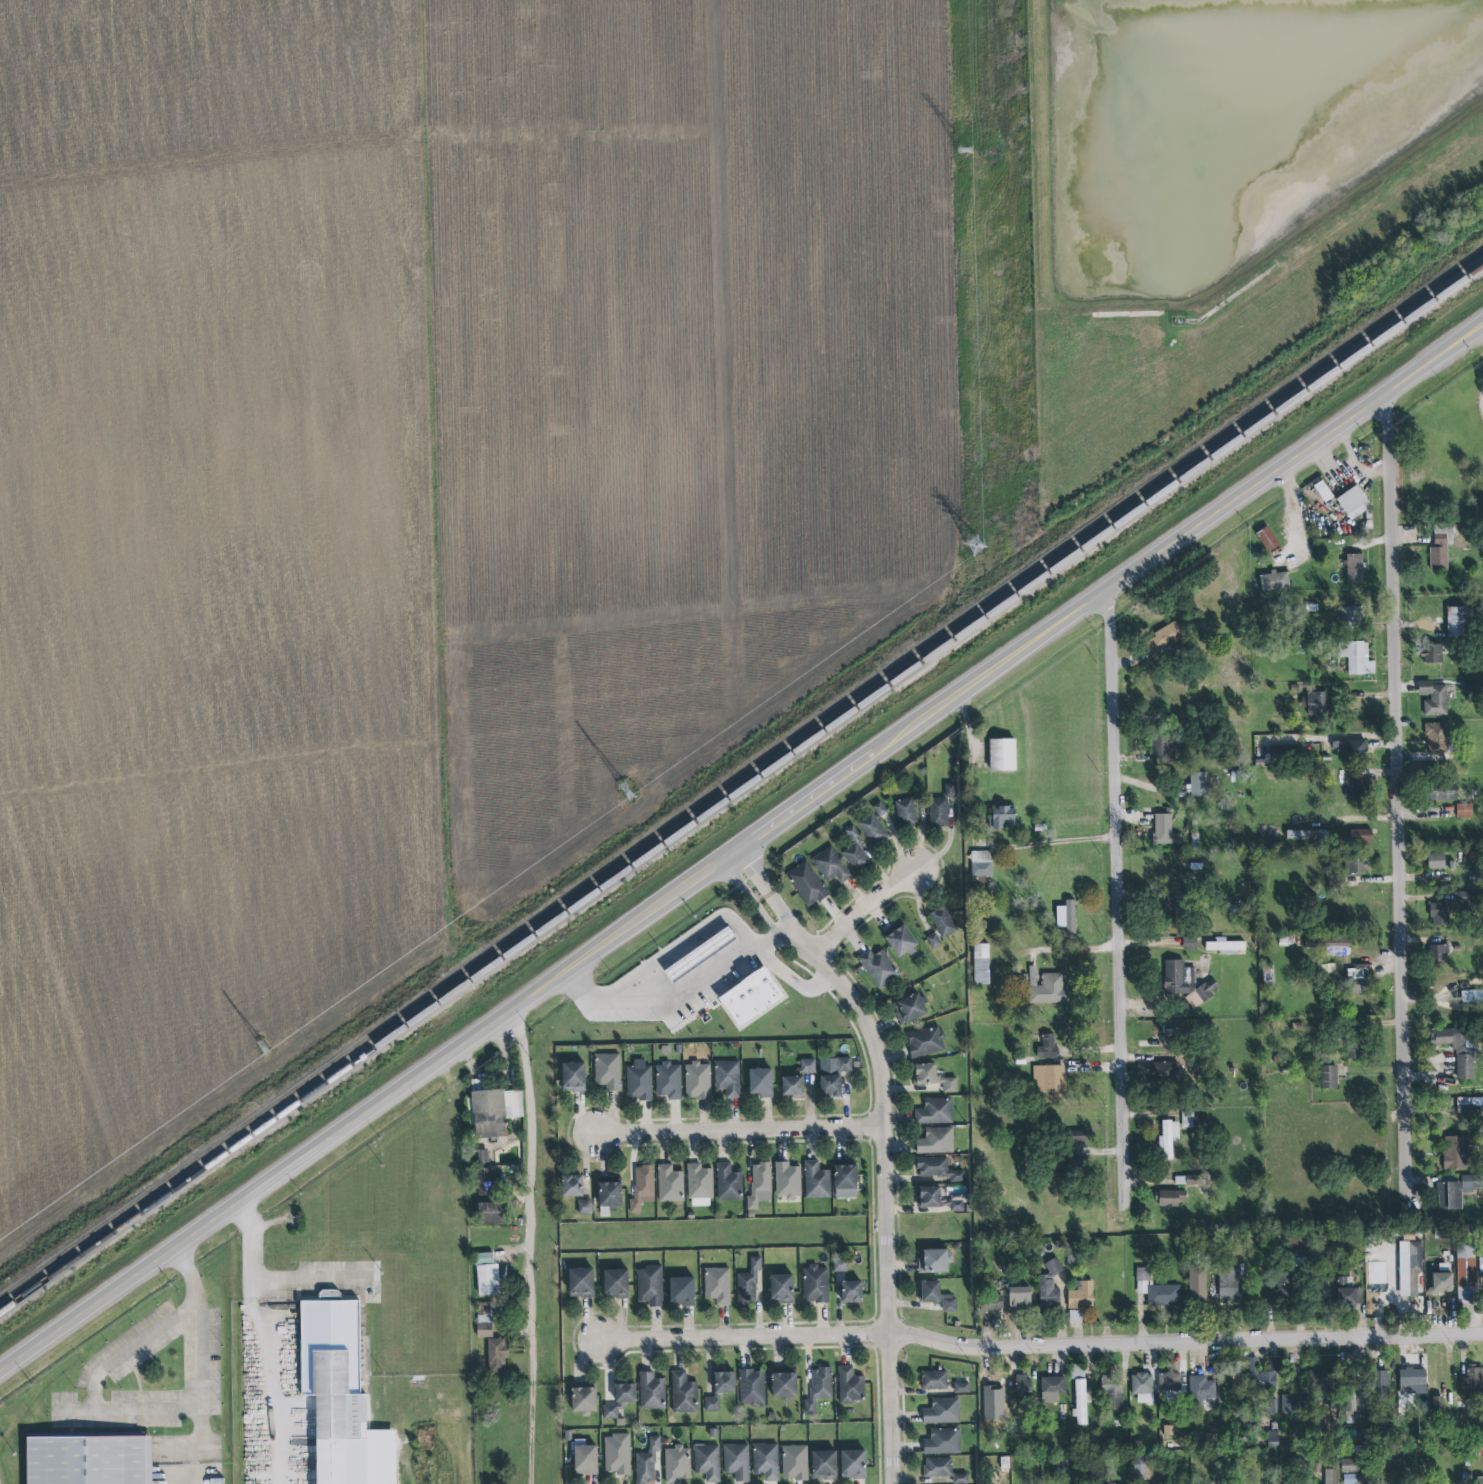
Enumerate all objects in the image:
power tower: (963, 151)
building: (1354, 502)
building: (1267, 539)
power tower: (973, 549)
building: (1439, 549)
building: (1355, 569)
building: (1274, 581)
building: (1351, 616)
building: (1456, 621)
building: (1164, 638)
building: (1432, 654)
building: (1357, 658)
building: (1473, 686)
building: (1433, 698)
building: (1316, 703)
building: (1436, 739)
building: (1350, 748)
building: (1161, 751)
building: (1002, 754)
railway: (743, 772)
building: (1198, 785)
building: (1360, 789)
building: (949, 790)
power tower: (626, 792)
building: (1443, 792)
road: (1398, 798)
building: (879, 809)
building: (1464, 811)
building: (905, 812)
building: (938, 812)
building: (1003, 817)
building: (872, 830)
building: (1165, 830)
building: (853, 833)
building: (1307, 835)
building: (1361, 836)
road: (1032, 842)
road: (739, 848)
building: (857, 858)
building: (1436, 861)
building: (981, 863)
building: (830, 865)
building: (1356, 865)
building: (807, 884)
road: (1117, 896)
building: (1173, 907)
building: (1071, 909)
road: (866, 913)
building: (1439, 915)
building: (943, 922)
road: (680, 942)
building: (901, 942)
building: (934, 942)
building: (1338, 942)
building: (1225, 945)
road: (1076, 949)
building: (1438, 952)
building: (676, 964)
building: (981, 964)
building: (878, 968)
building: (1328, 969)
building: (1359, 976)
road: (791, 981)
building: (1186, 983)
building: (1047, 988)
road: (682, 992)
building: (1472, 997)
building: (752, 998)
building: (909, 1009)
building: (925, 1042)
building: (1047, 1047)
building: (1355, 1049)
building: (1456, 1050)
power tower: (262, 1055)
building: (607, 1069)
building: (1164, 1071)
building: (831, 1072)
building: (725, 1076)
building: (796, 1076)
building: (573, 1077)
building: (1328, 1077)
building: (932, 1078)
building: (666, 1079)
building: (759, 1080)
building: (638, 1081)
building: (697, 1081)
building: (1048, 1081)
building: (1469, 1107)
building: (934, 1110)
building: (1193, 1121)
road: (734, 1129)
building: (1077, 1136)
building: (934, 1139)
building: (1168, 1139)
road: (881, 1144)
building: (1454, 1152)
building: (483, 1156)
building: (938, 1169)
building: (843, 1173)
building: (785, 1179)
building: (814, 1179)
building: (726, 1181)
building: (485, 1182)
building: (757, 1182)
building: (669, 1184)
building: (572, 1186)
building: (642, 1186)
building: (699, 1186)
building: (1456, 1189)
building: (609, 1194)
building: (1171, 1198)
building: (939, 1199)
building: (585, 1207)
building: (492, 1214)
road: (525, 1246)
building: (1299, 1247)
building: (933, 1261)
building: (840, 1266)
building: (1407, 1266)
building: (1466, 1273)
building: (487, 1275)
building: (1440, 1279)
building: (746, 1280)
building: (813, 1282)
road: (267, 1283)
building: (581, 1283)
building: (616, 1283)
building: (1228, 1284)
building: (717, 1285)
building: (1285, 1285)
building: (649, 1286)
building: (1197, 1286)
building: (1049, 1287)
building: (849, 1288)
building: (681, 1289)
building: (781, 1289)
building: (1156, 1290)
building: (931, 1292)
building: (1347, 1294)
building: (329, 1295)
building: (1081, 1295)
building: (1020, 1298)
building: (991, 1304)
building: (949, 1305)
building: (1074, 1317)
building: (484, 1321)
road: (741, 1339)
road: (1184, 1343)
road: (130, 1349)
road: (197, 1351)
building: (497, 1356)
road: (277, 1372)
building: (1261, 1374)
building: (1408, 1376)
building: (934, 1380)
building: (1168, 1380)
building: (1322, 1380)
building: (781, 1382)
building: (1382, 1382)
building: (725, 1383)
building: (848, 1384)
building: (1472, 1384)
building: (752, 1387)
building: (1142, 1387)
building: (818, 1388)
building: (961, 1388)
building: (1023, 1388)
building: (1051, 1388)
building: (1201, 1388)
building: (651, 1392)
building: (1111, 1392)
building: (683, 1393)
building: (341, 1398)
building: (619, 1398)
building: (584, 1401)
building: (1078, 1401)
building: (712, 1404)
building: (1296, 1404)
building: (1438, 1404)
road: (125, 1408)
building: (942, 1412)
building: (1272, 1439)
building: (942, 1442)
building: (616, 1453)
building: (89, 1458)
building: (585, 1460)
building: (734, 1460)
building: (765, 1461)
building: (647, 1462)
building: (707, 1462)
building: (794, 1462)
building: (851, 1462)
building: (822, 1463)
building: (677, 1464)
building: (1349, 1465)
building: (1139, 1466)
building: (937, 1468)
road: (201, 1471)
building: (960, 1479)
building: (1479, 1480)

